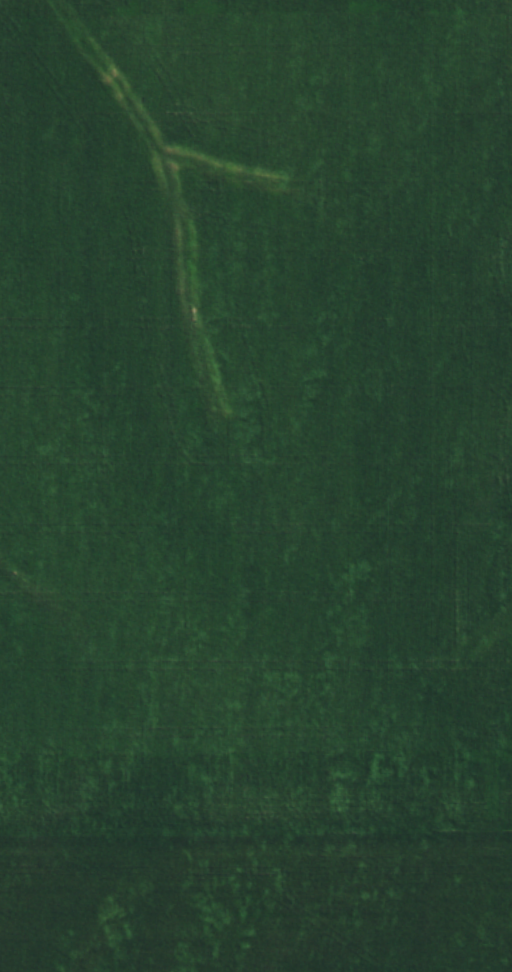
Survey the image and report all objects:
crop: (255, 901)

